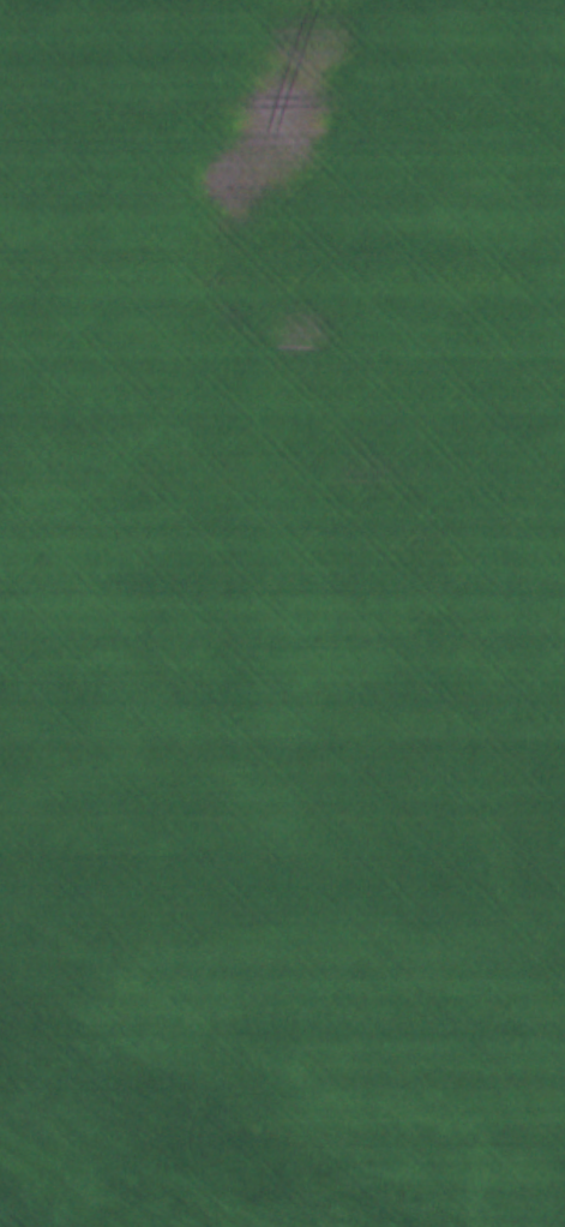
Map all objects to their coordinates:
crop: (282, 613)

